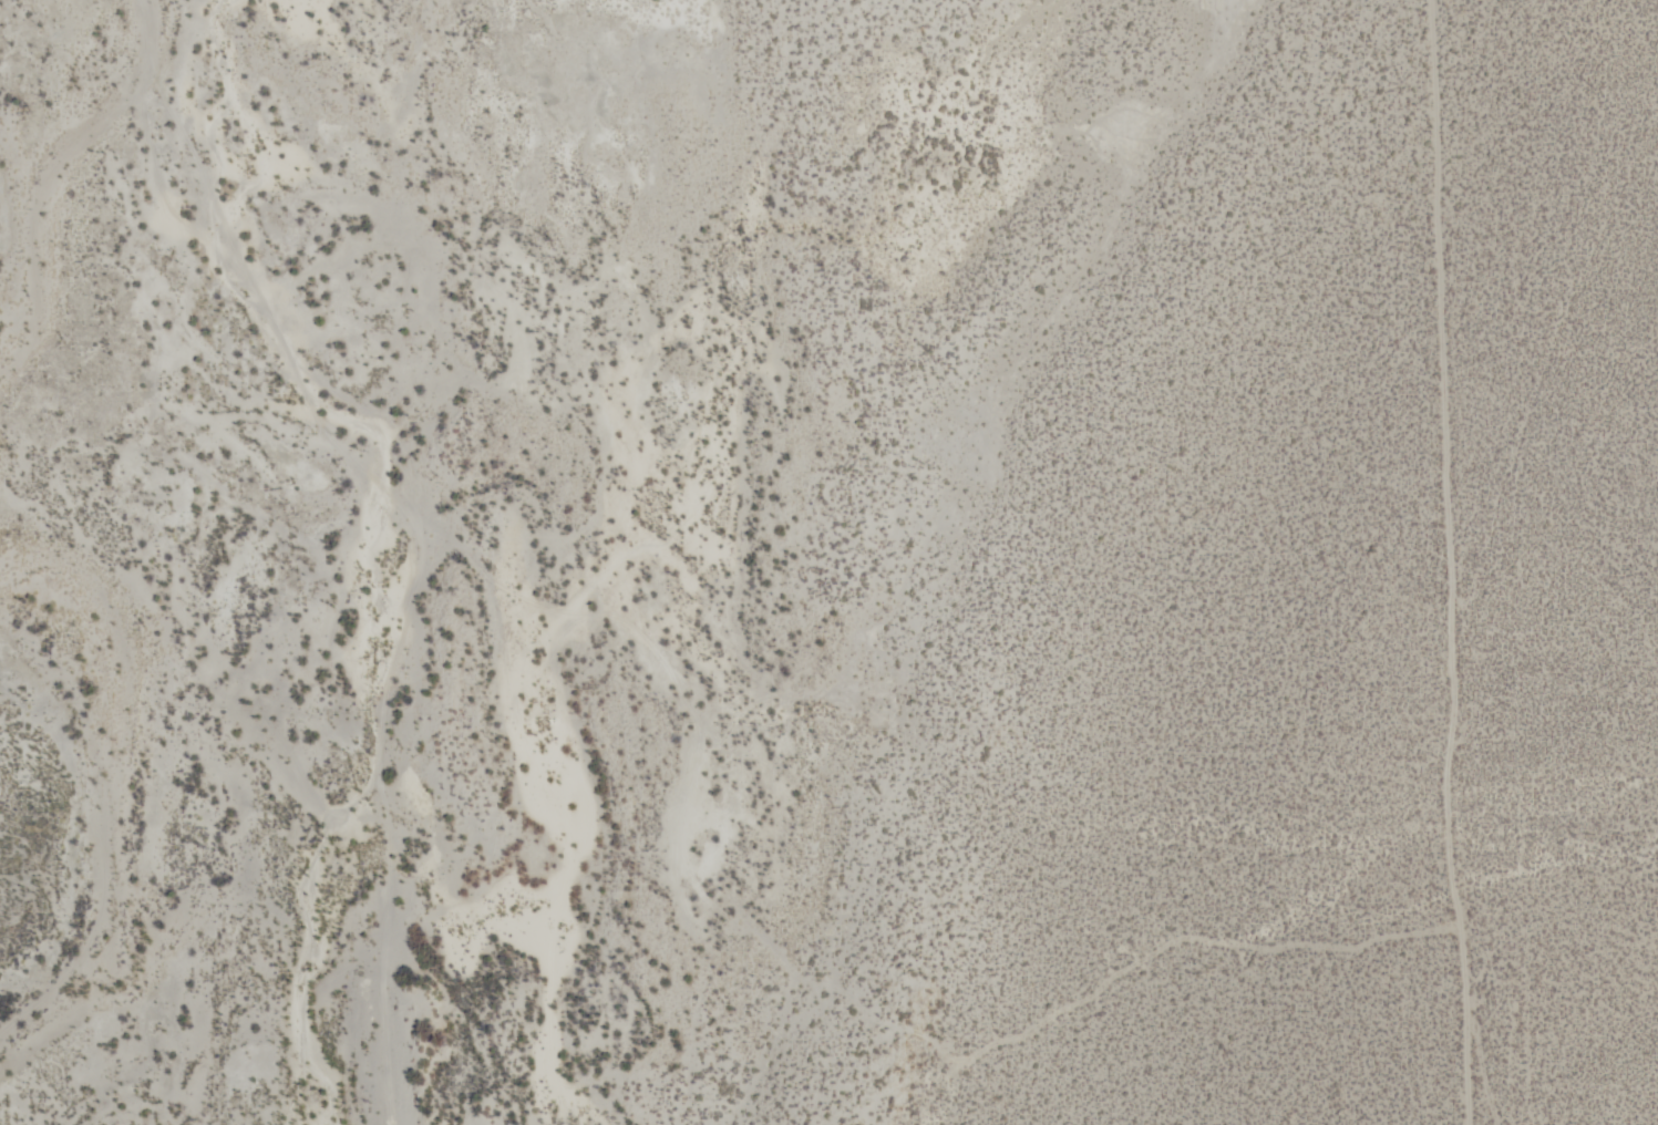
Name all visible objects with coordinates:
road: (190, 145)
road: (1442, 234)
road: (1410, 240)
road: (1453, 797)
road: (804, 981)
road: (1476, 1065)

